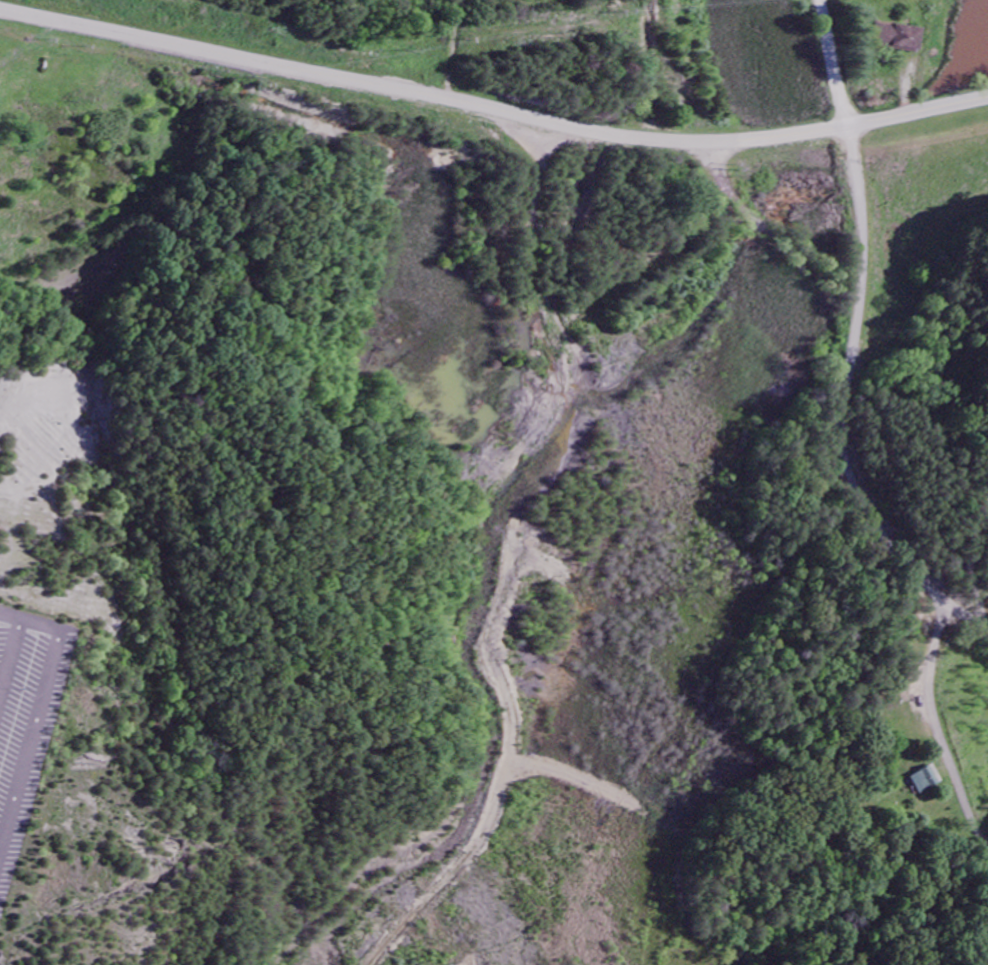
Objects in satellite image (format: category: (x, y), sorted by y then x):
building: (893, 36)
road: (452, 48)
road: (834, 63)
road: (907, 88)
road: (421, 92)
road: (917, 111)
road: (842, 405)
road: (6, 641)
road: (34, 694)
parking lot: (27, 709)
road: (937, 723)
building: (931, 780)

